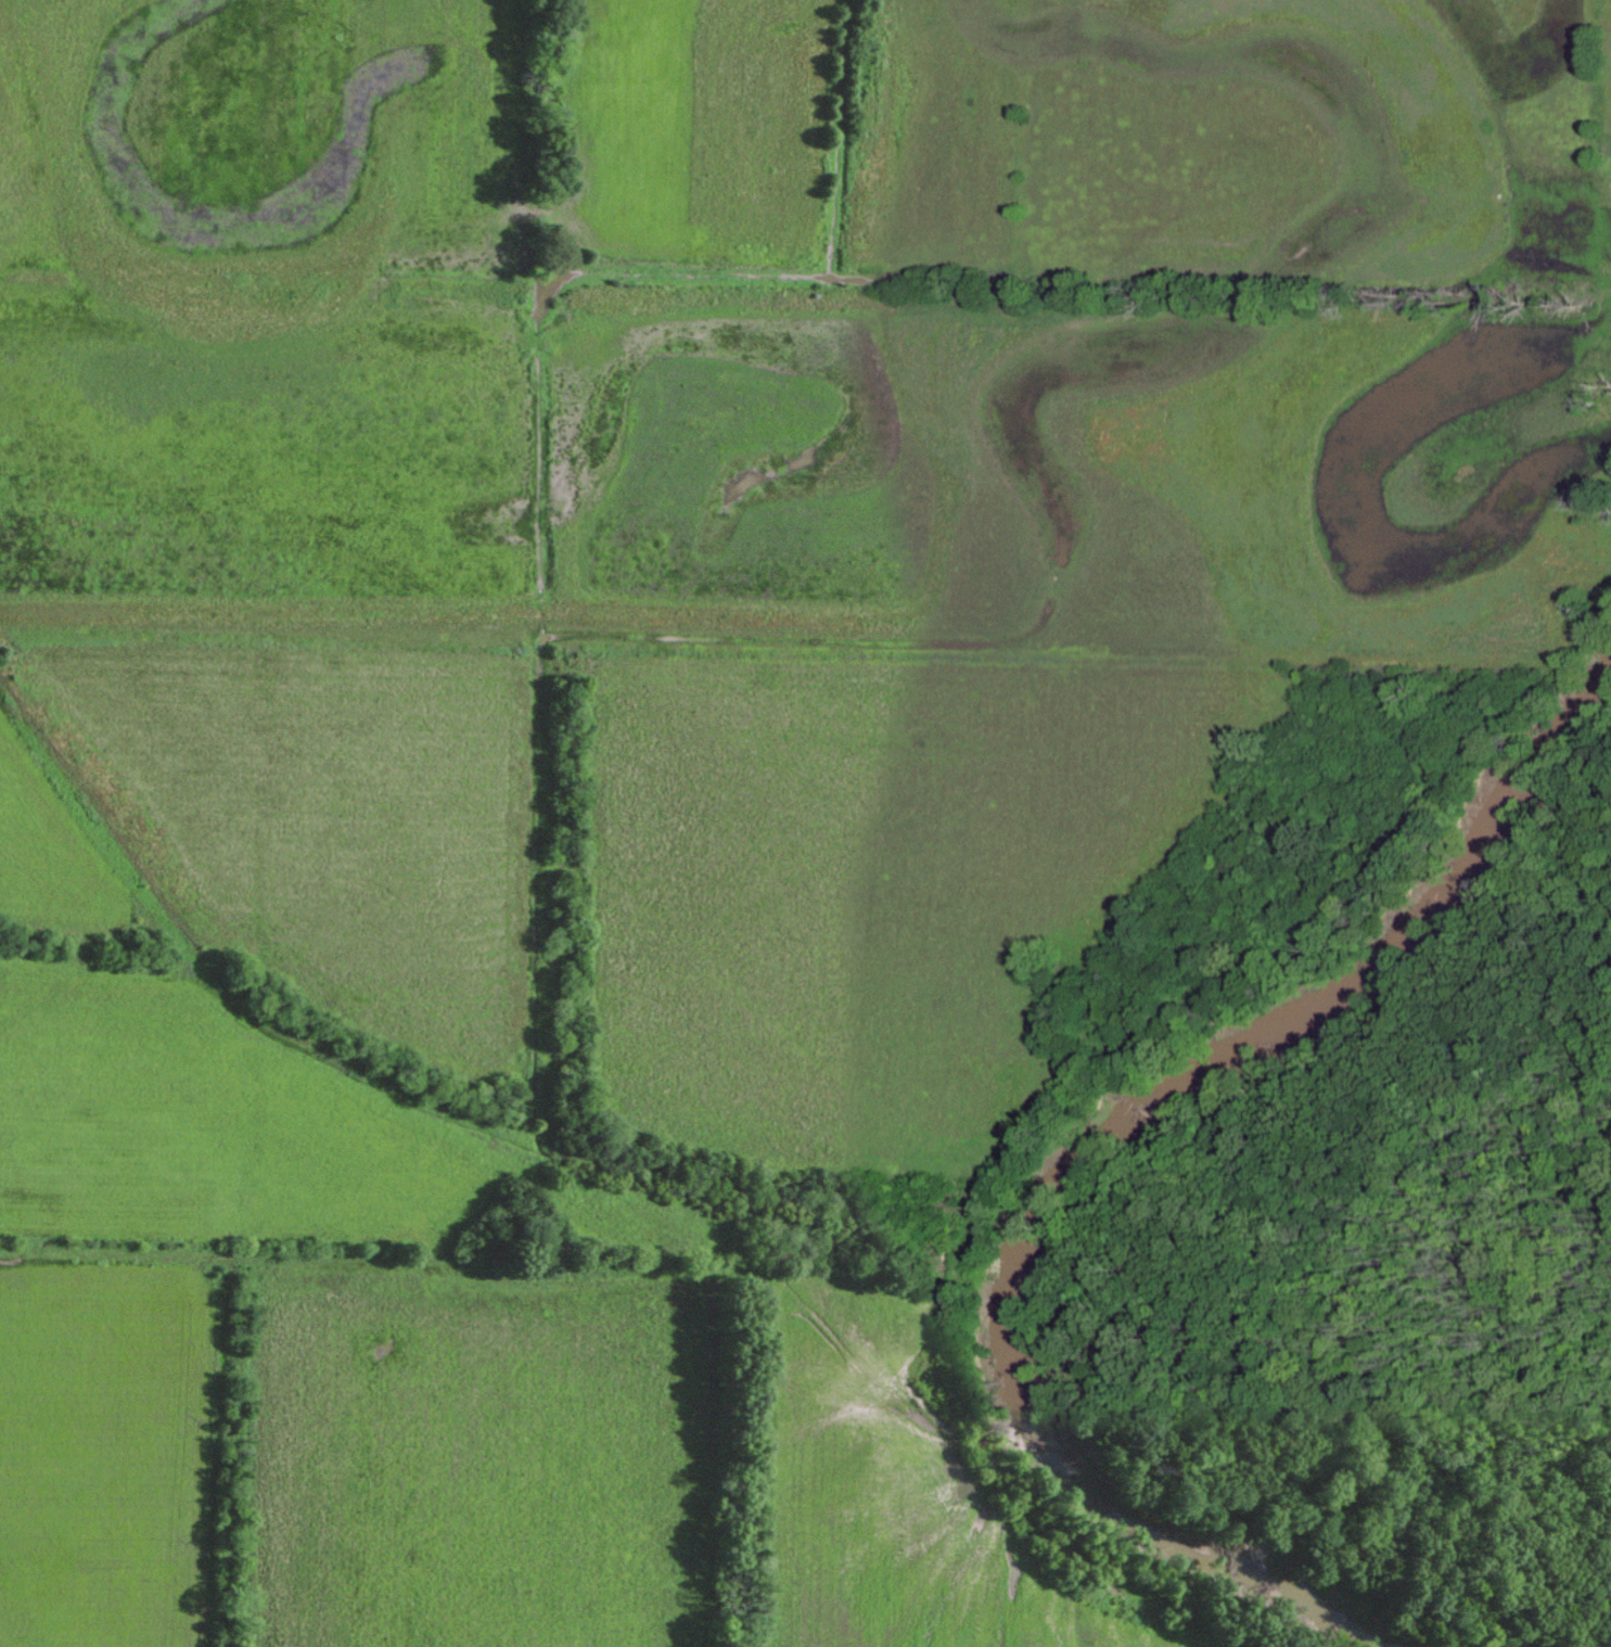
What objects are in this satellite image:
road: (452, 1273)

